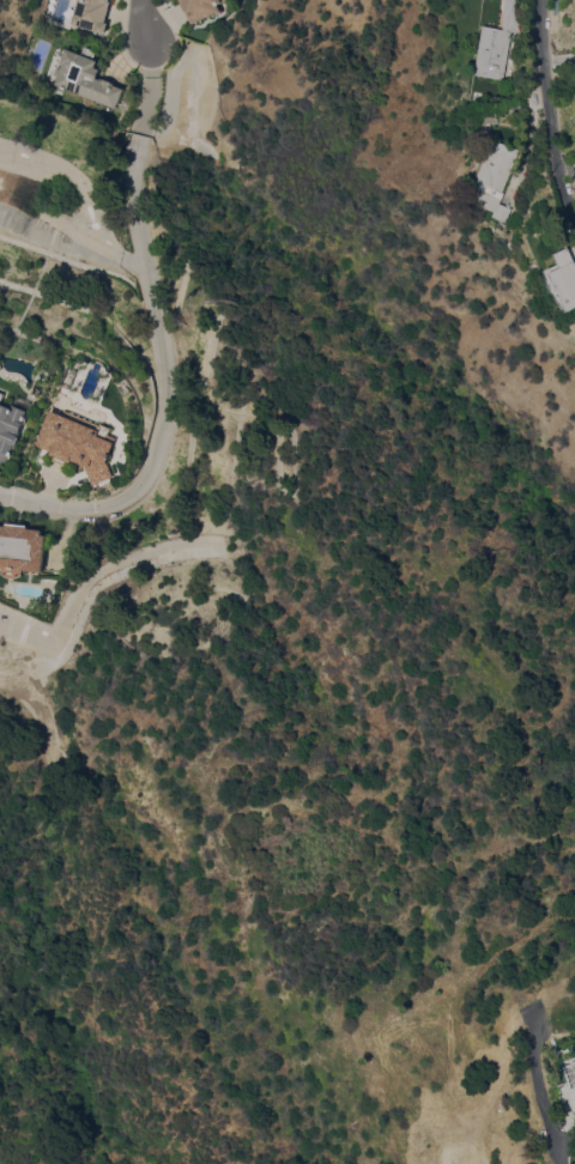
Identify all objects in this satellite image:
building: (200, 8)
building: (91, 14)
road: (145, 23)
building: (502, 43)
road: (564, 57)
building: (85, 78)
road: (557, 97)
building: (491, 127)
road: (69, 175)
building: (498, 178)
road: (46, 230)
road: (115, 255)
building: (565, 278)
road: (159, 395)
building: (11, 426)
building: (80, 443)
building: (20, 550)
building: (573, 1072)
road: (567, 1133)

